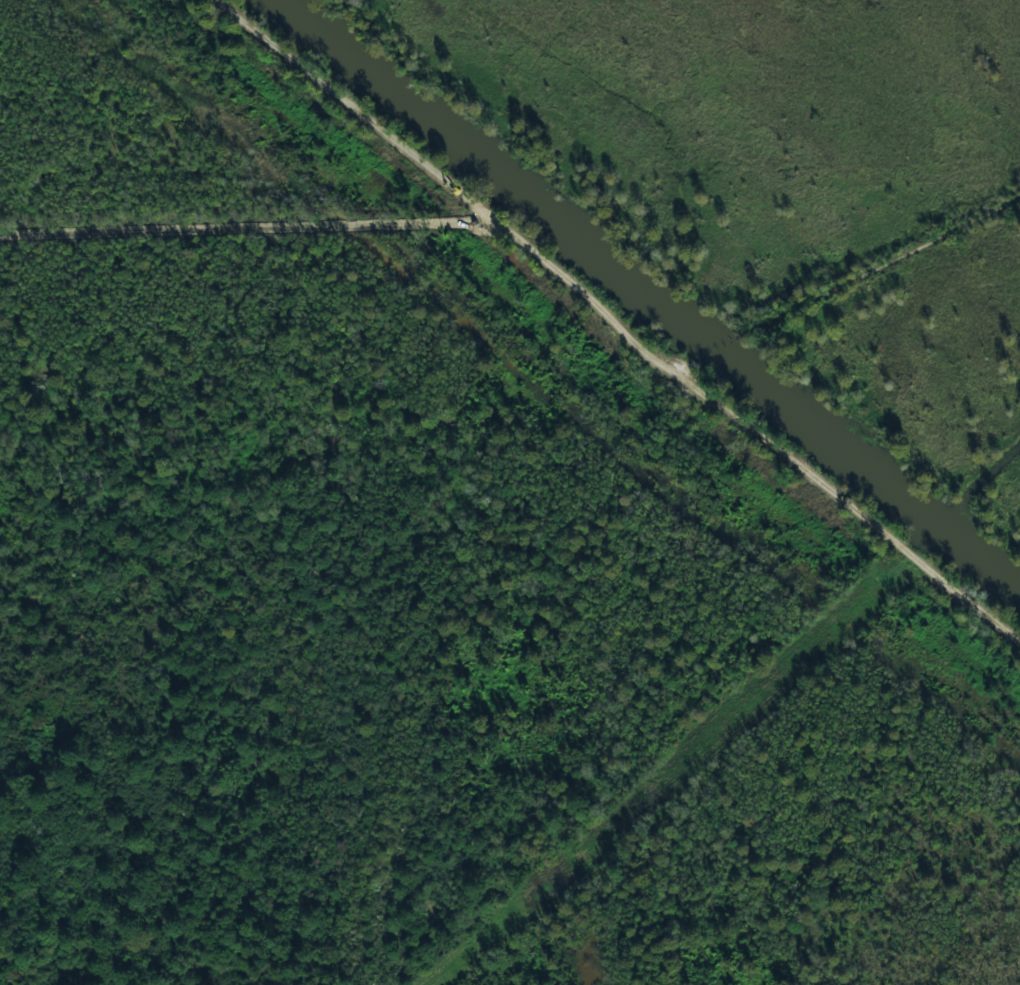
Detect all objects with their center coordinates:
road: (449, 176)
road: (840, 499)

